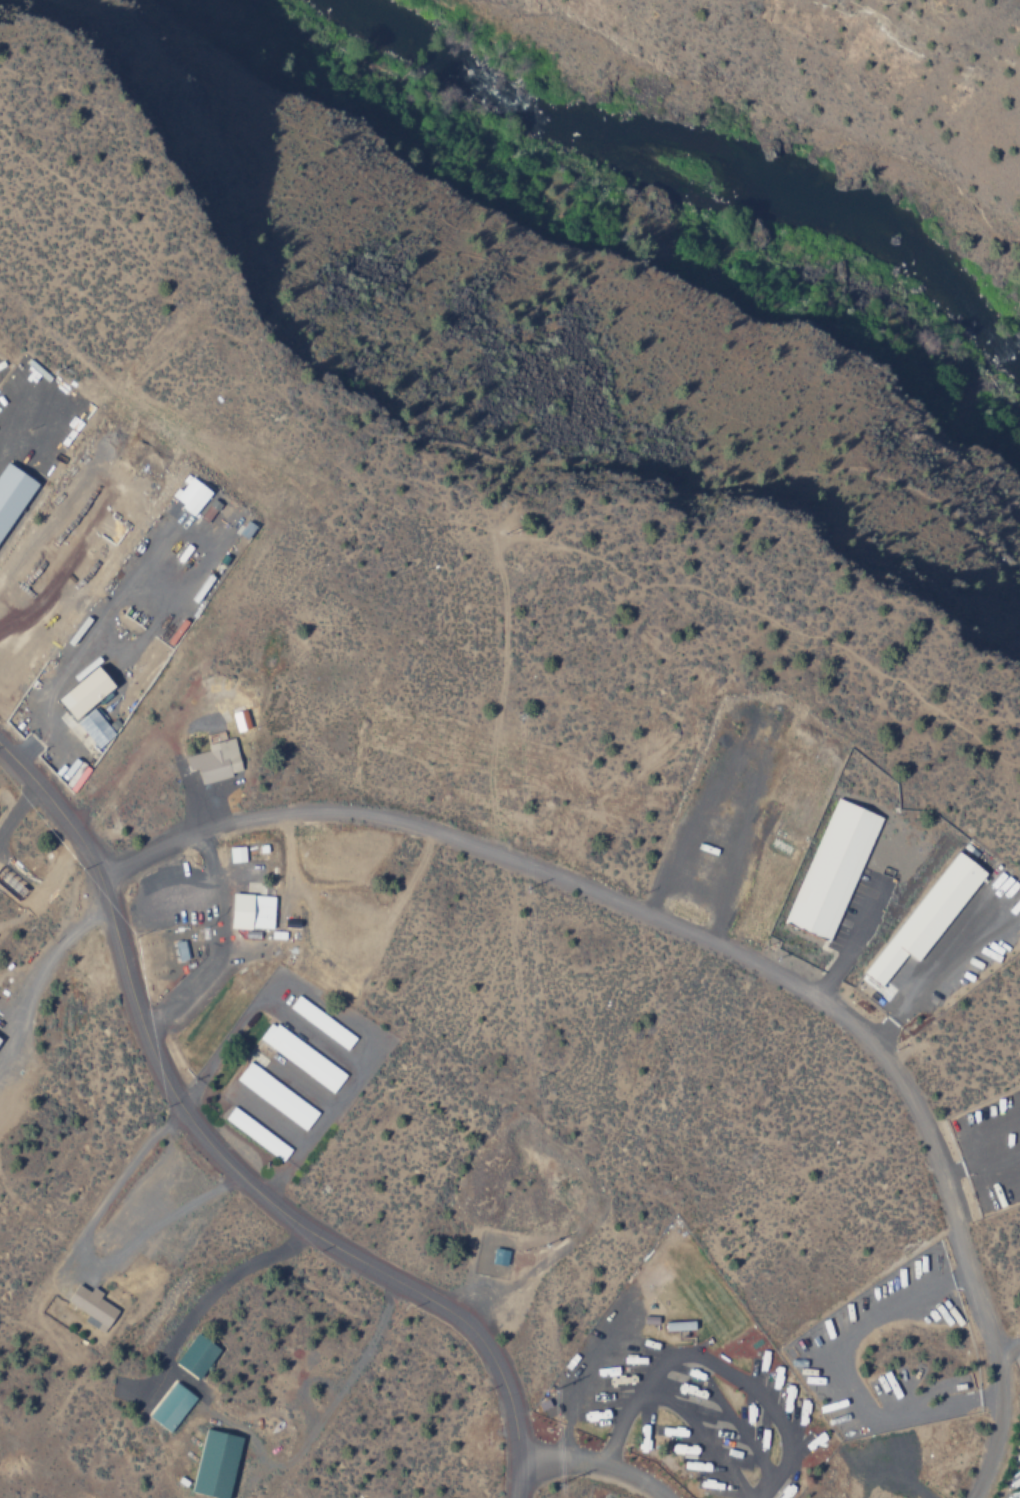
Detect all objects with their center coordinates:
river: (694, 177)
building: (11, 492)
building: (191, 495)
building: (246, 528)
building: (83, 691)
building: (240, 719)
building: (93, 727)
building: (215, 758)
building: (236, 853)
building: (832, 869)
building: (250, 910)
building: (927, 915)
road: (720, 951)
building: (319, 1020)
building: (302, 1056)
building: (276, 1095)
building: (257, 1133)
road: (222, 1163)
building: (499, 1256)
building: (91, 1307)
building: (196, 1356)
building: (170, 1406)
building: (215, 1463)
road: (591, 1464)

